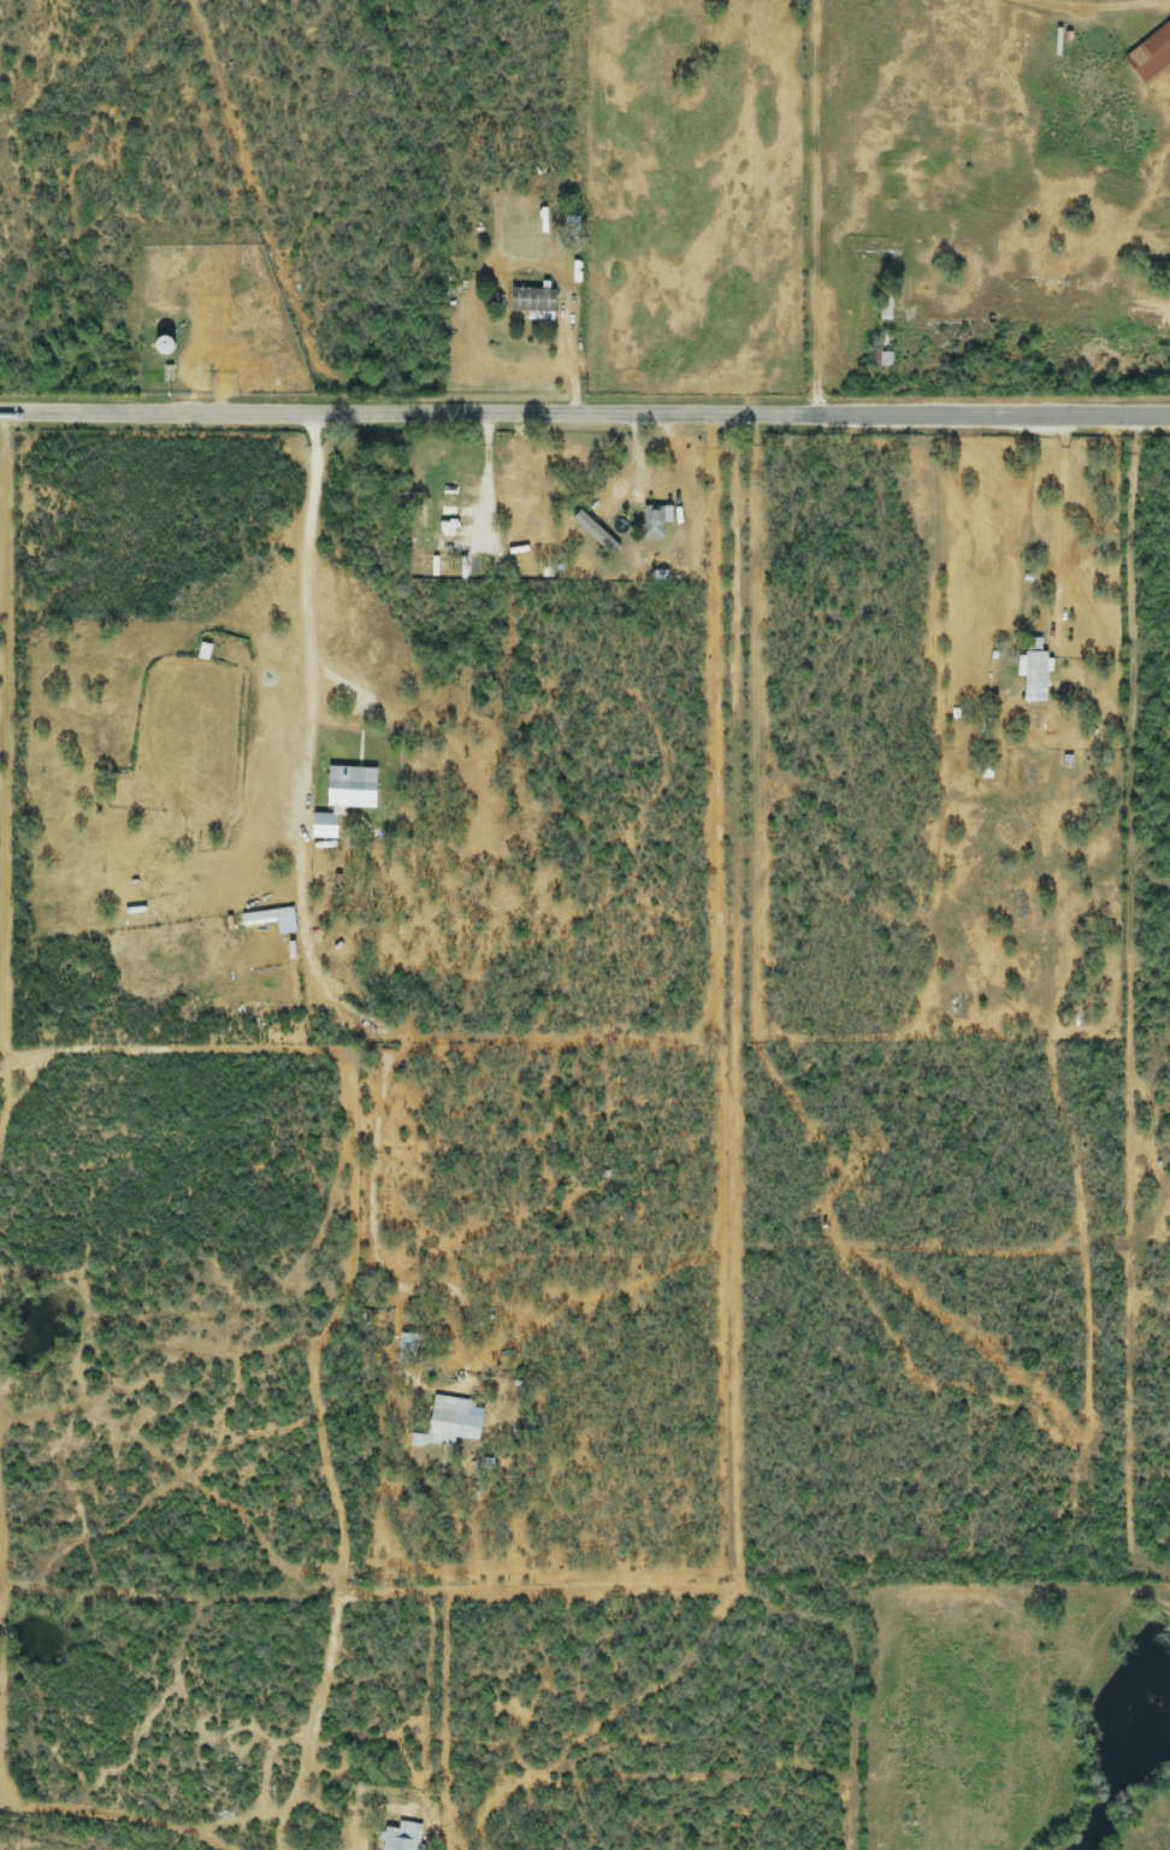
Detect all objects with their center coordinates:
building: (534, 301)
building: (166, 346)
road: (585, 411)
building: (655, 522)
building: (1035, 672)
road: (314, 702)
building: (406, 1350)
building: (453, 1421)
building: (401, 1838)

